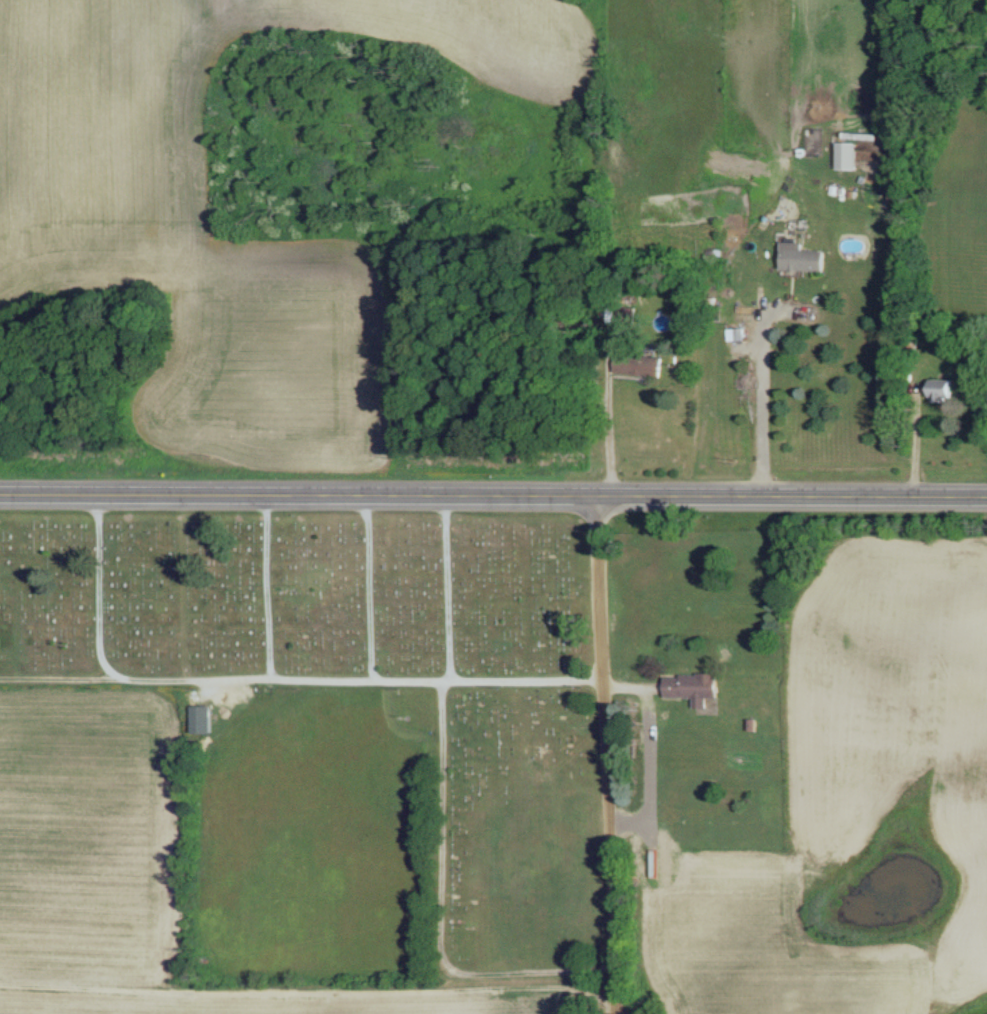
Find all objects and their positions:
building: (804, 256)
building: (643, 363)
building: (943, 388)
road: (765, 401)
road: (618, 427)
road: (493, 494)
road: (281, 590)
road: (382, 591)
road: (460, 591)
park: (371, 676)
road: (65, 686)
road: (270, 686)
building: (694, 686)
building: (205, 717)
road: (649, 752)
road: (612, 753)
road: (443, 919)

